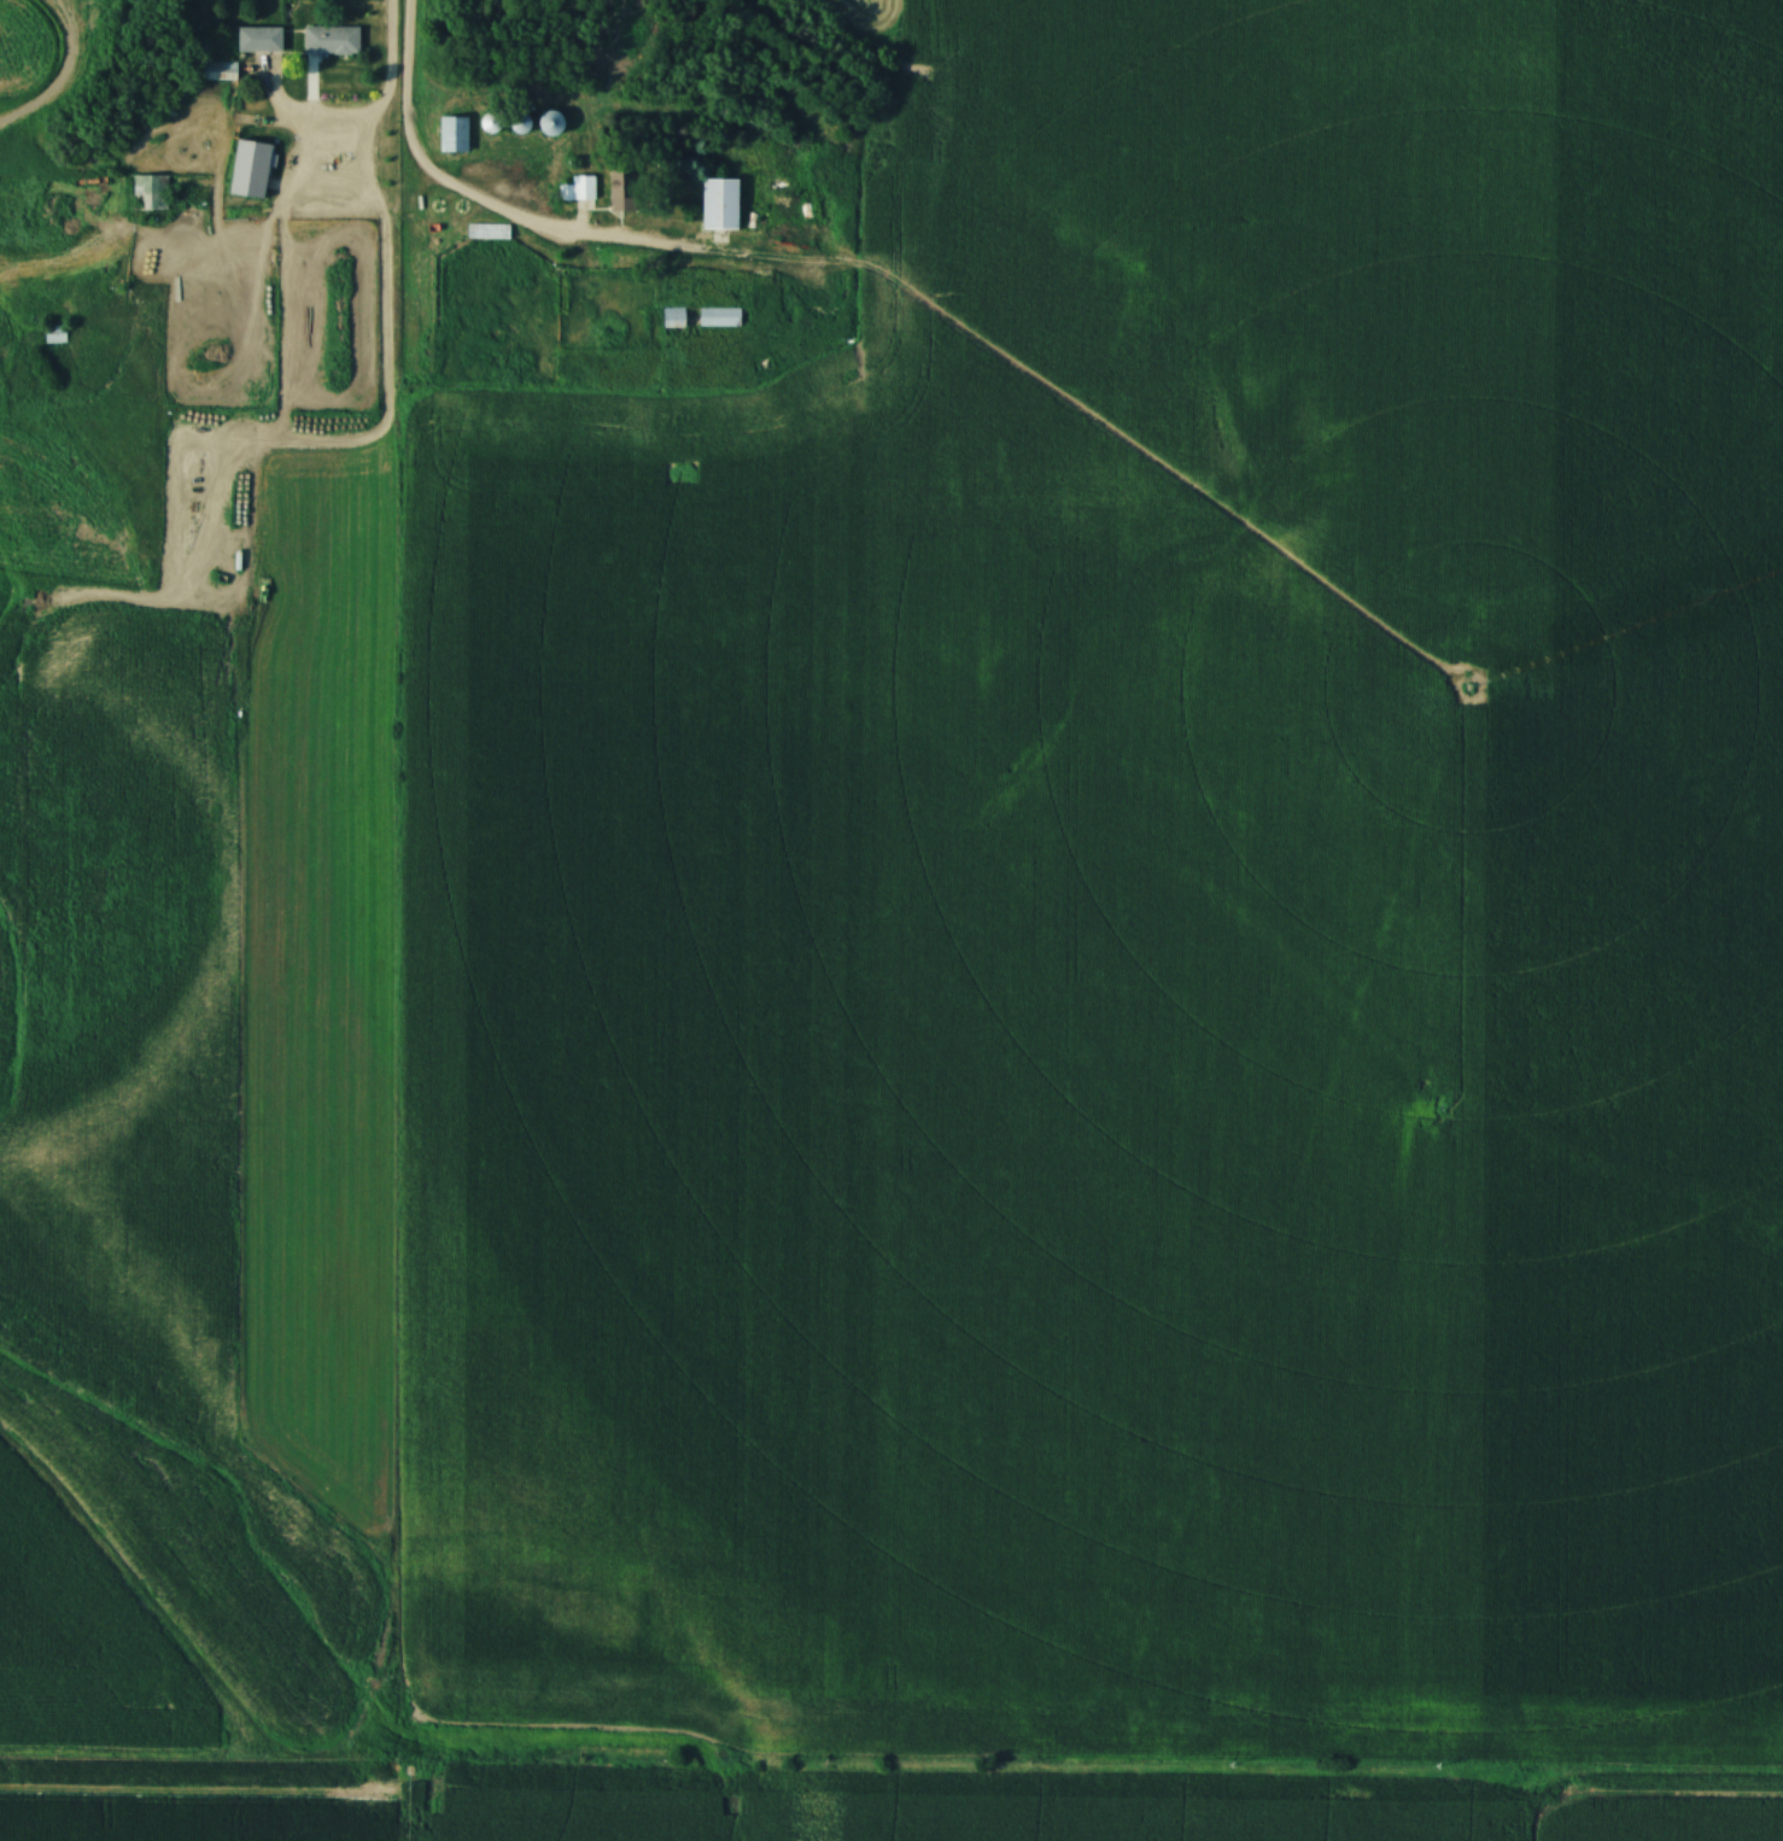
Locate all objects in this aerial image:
building: (259, 41)
building: (331, 42)
building: (218, 72)
road: (391, 78)
building: (452, 136)
building: (583, 189)
building: (621, 193)
building: (150, 194)
building: (719, 205)
road: (473, 208)
building: (719, 317)
building: (673, 323)
building: (54, 335)

